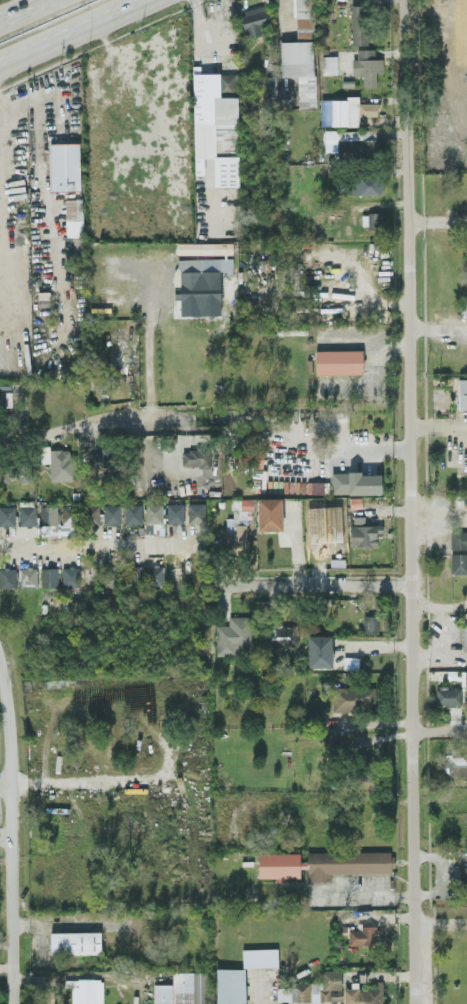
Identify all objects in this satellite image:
road: (28, 12)
road: (284, 19)
building: (255, 21)
building: (359, 24)
road: (69, 31)
building: (329, 64)
building: (367, 65)
road: (197, 74)
building: (289, 91)
road: (1, 110)
building: (345, 110)
building: (216, 125)
building: (357, 143)
road: (58, 148)
building: (64, 165)
building: (366, 183)
building: (73, 216)
building: (375, 220)
road: (439, 220)
building: (466, 234)
building: (204, 247)
building: (200, 279)
road: (26, 288)
building: (464, 304)
road: (66, 312)
road: (438, 325)
road: (370, 338)
road: (148, 343)
building: (338, 361)
building: (5, 392)
building: (462, 393)
road: (91, 422)
road: (438, 426)
road: (342, 443)
building: (251, 452)
building: (196, 456)
building: (102, 462)
building: (61, 464)
building: (357, 485)
road: (408, 501)
road: (372, 508)
road: (437, 510)
building: (154, 512)
building: (175, 512)
building: (196, 512)
building: (133, 513)
building: (269, 513)
building: (7, 514)
building: (48, 514)
building: (80, 514)
building: (111, 514)
building: (27, 515)
building: (238, 526)
building: (363, 531)
building: (458, 539)
road: (96, 546)
building: (458, 562)
building: (111, 574)
building: (134, 574)
building: (154, 574)
building: (28, 575)
building: (70, 575)
building: (49, 576)
building: (8, 577)
road: (310, 585)
road: (454, 604)
road: (444, 613)
building: (370, 623)
building: (465, 628)
building: (235, 635)
building: (284, 635)
building: (320, 650)
road: (439, 654)
building: (464, 679)
building: (354, 696)
building: (448, 696)
building: (313, 714)
road: (440, 727)
building: (455, 763)
road: (4, 779)
road: (67, 779)
road: (9, 836)
building: (323, 863)
building: (465, 882)
road: (363, 893)
road: (441, 920)
building: (362, 935)
building: (75, 941)
building: (230, 985)
building: (184, 988)
building: (314, 988)
building: (87, 991)
building: (364, 994)

